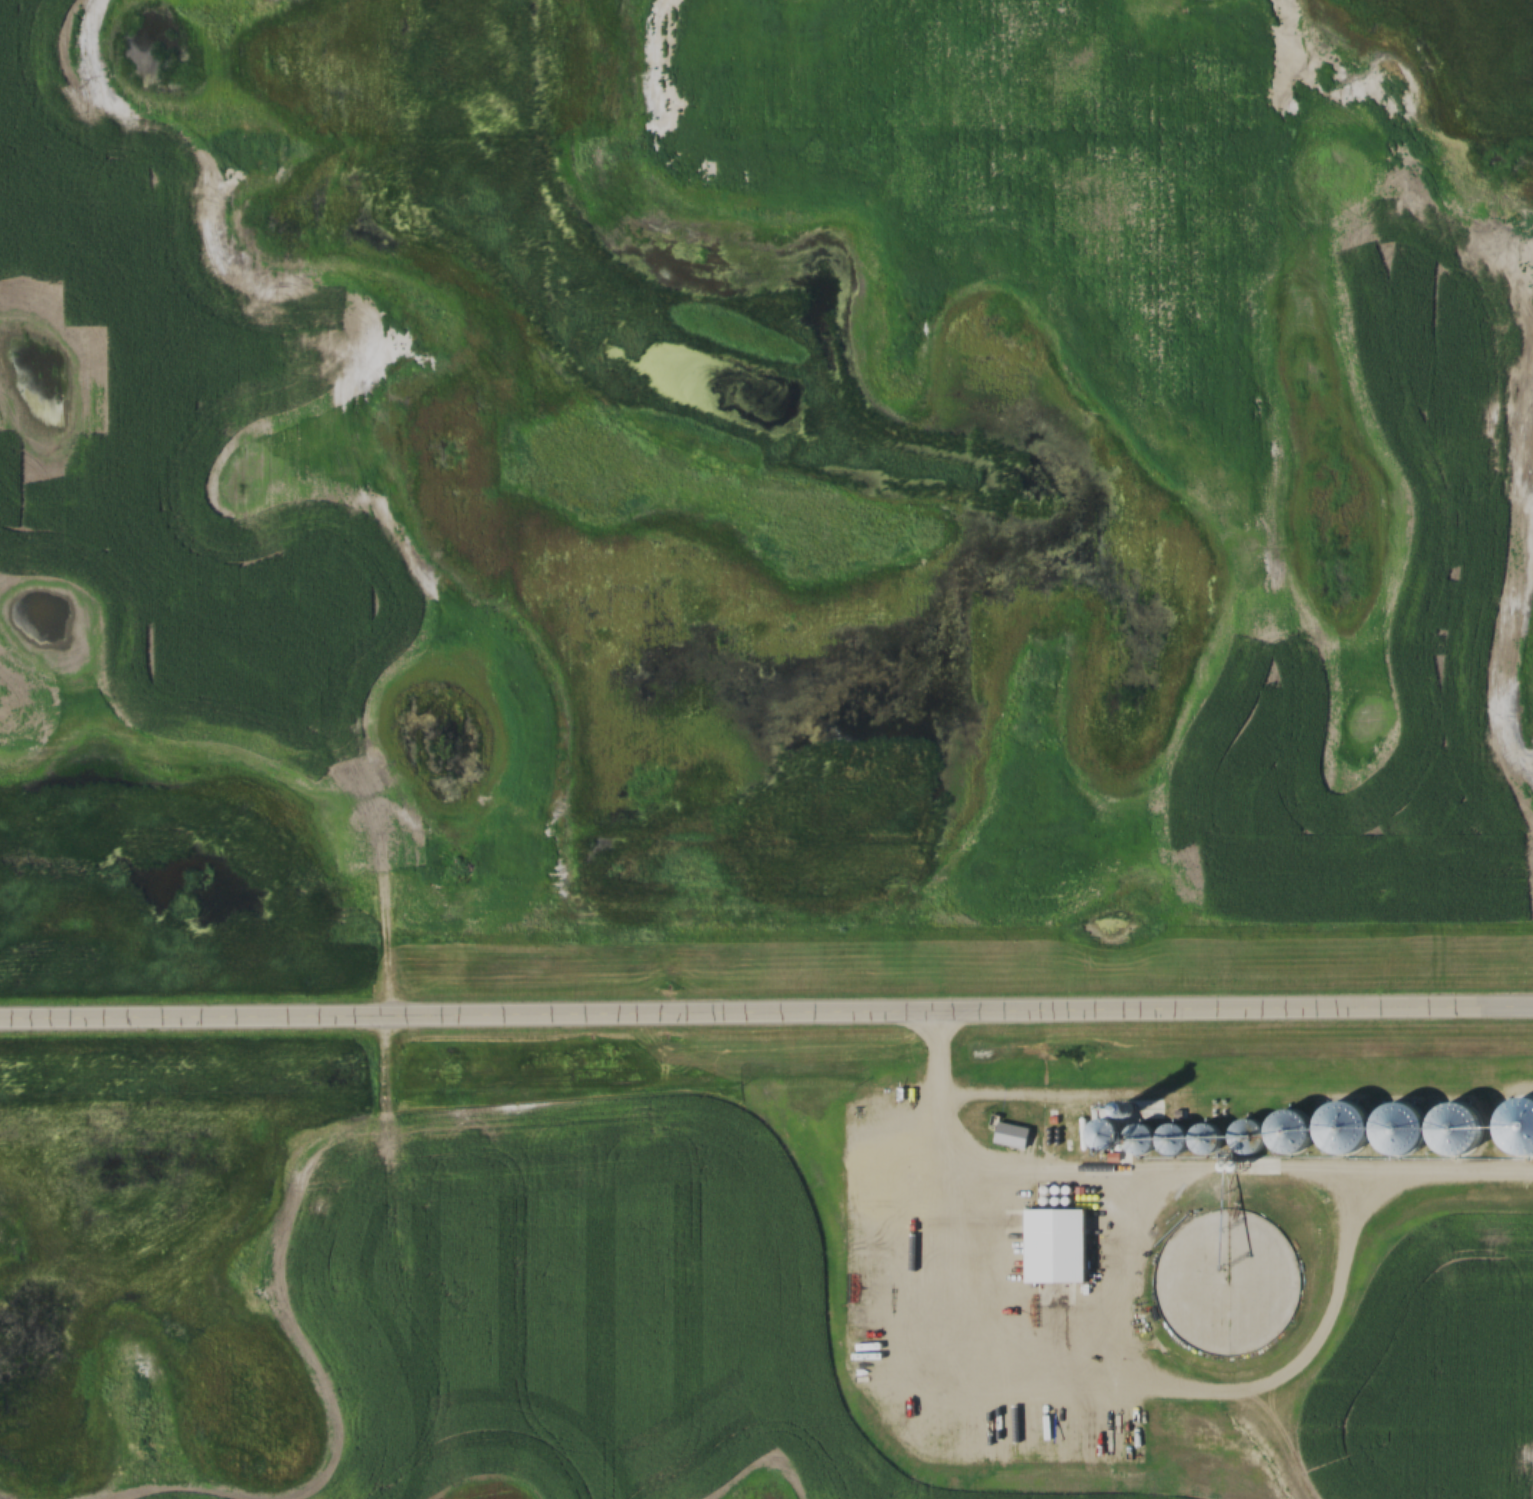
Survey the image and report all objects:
road: (766, 1018)
building: (1352, 1126)
building: (1004, 1135)
building: (1049, 1253)

